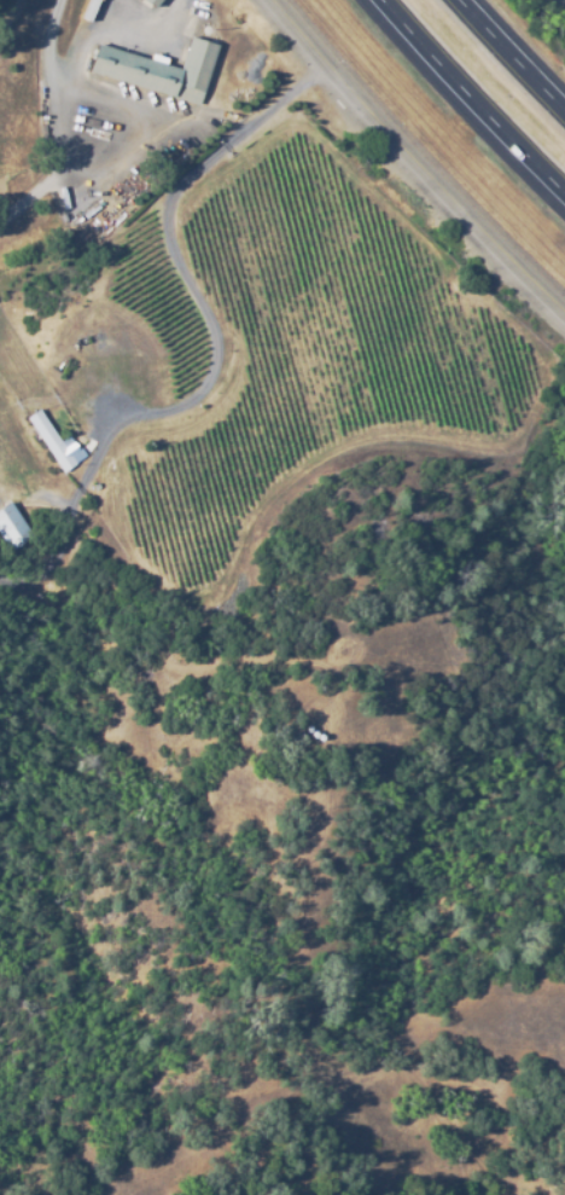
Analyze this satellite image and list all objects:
building: (150, 2)
building: (88, 10)
road: (511, 57)
building: (157, 71)
road: (471, 99)
road: (412, 163)
building: (77, 352)
building: (51, 442)
building: (11, 524)

